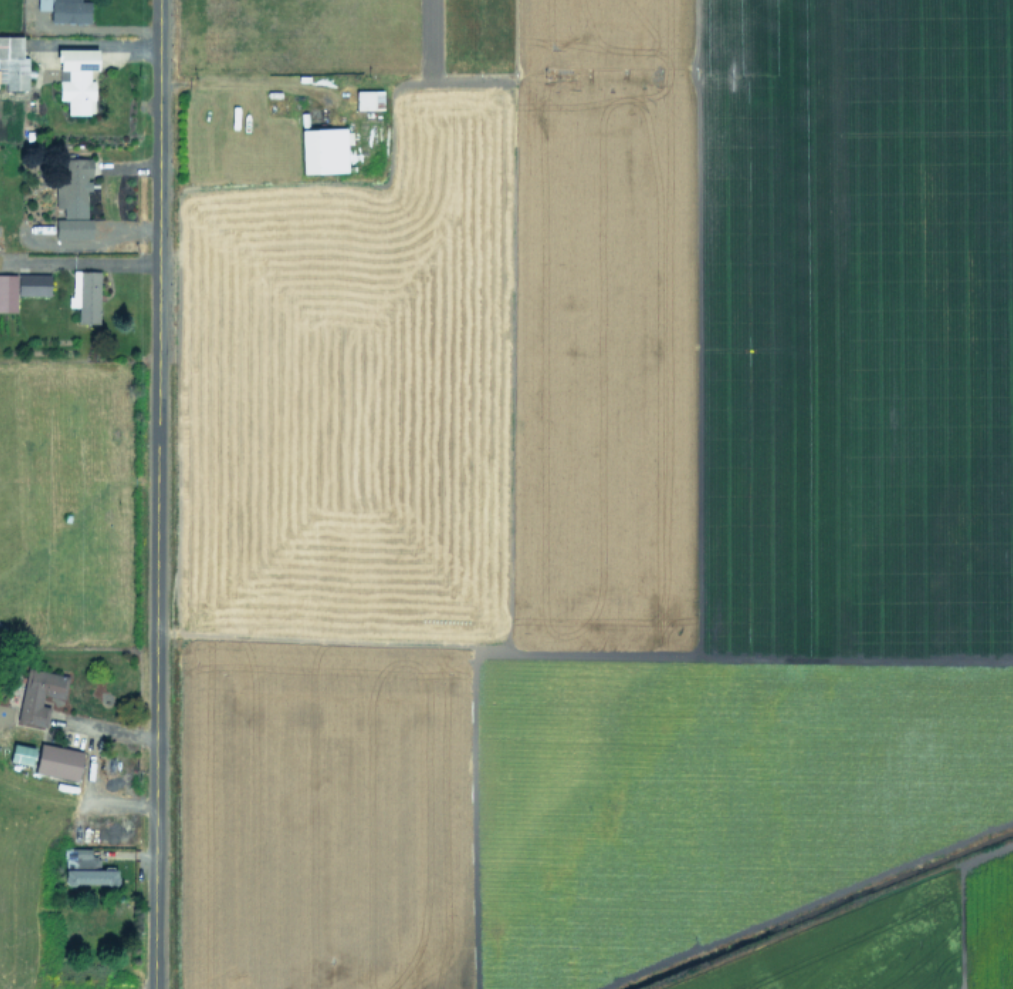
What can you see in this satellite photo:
building: (42, 4)
building: (69, 11)
road: (92, 43)
building: (12, 63)
building: (76, 79)
building: (368, 99)
building: (324, 149)
building: (73, 199)
road: (93, 242)
road: (82, 261)
building: (21, 288)
building: (85, 295)
crop: (61, 474)
road: (155, 494)
crop: (607, 497)
building: (38, 694)
building: (57, 761)
road: (89, 762)
building: (84, 868)

